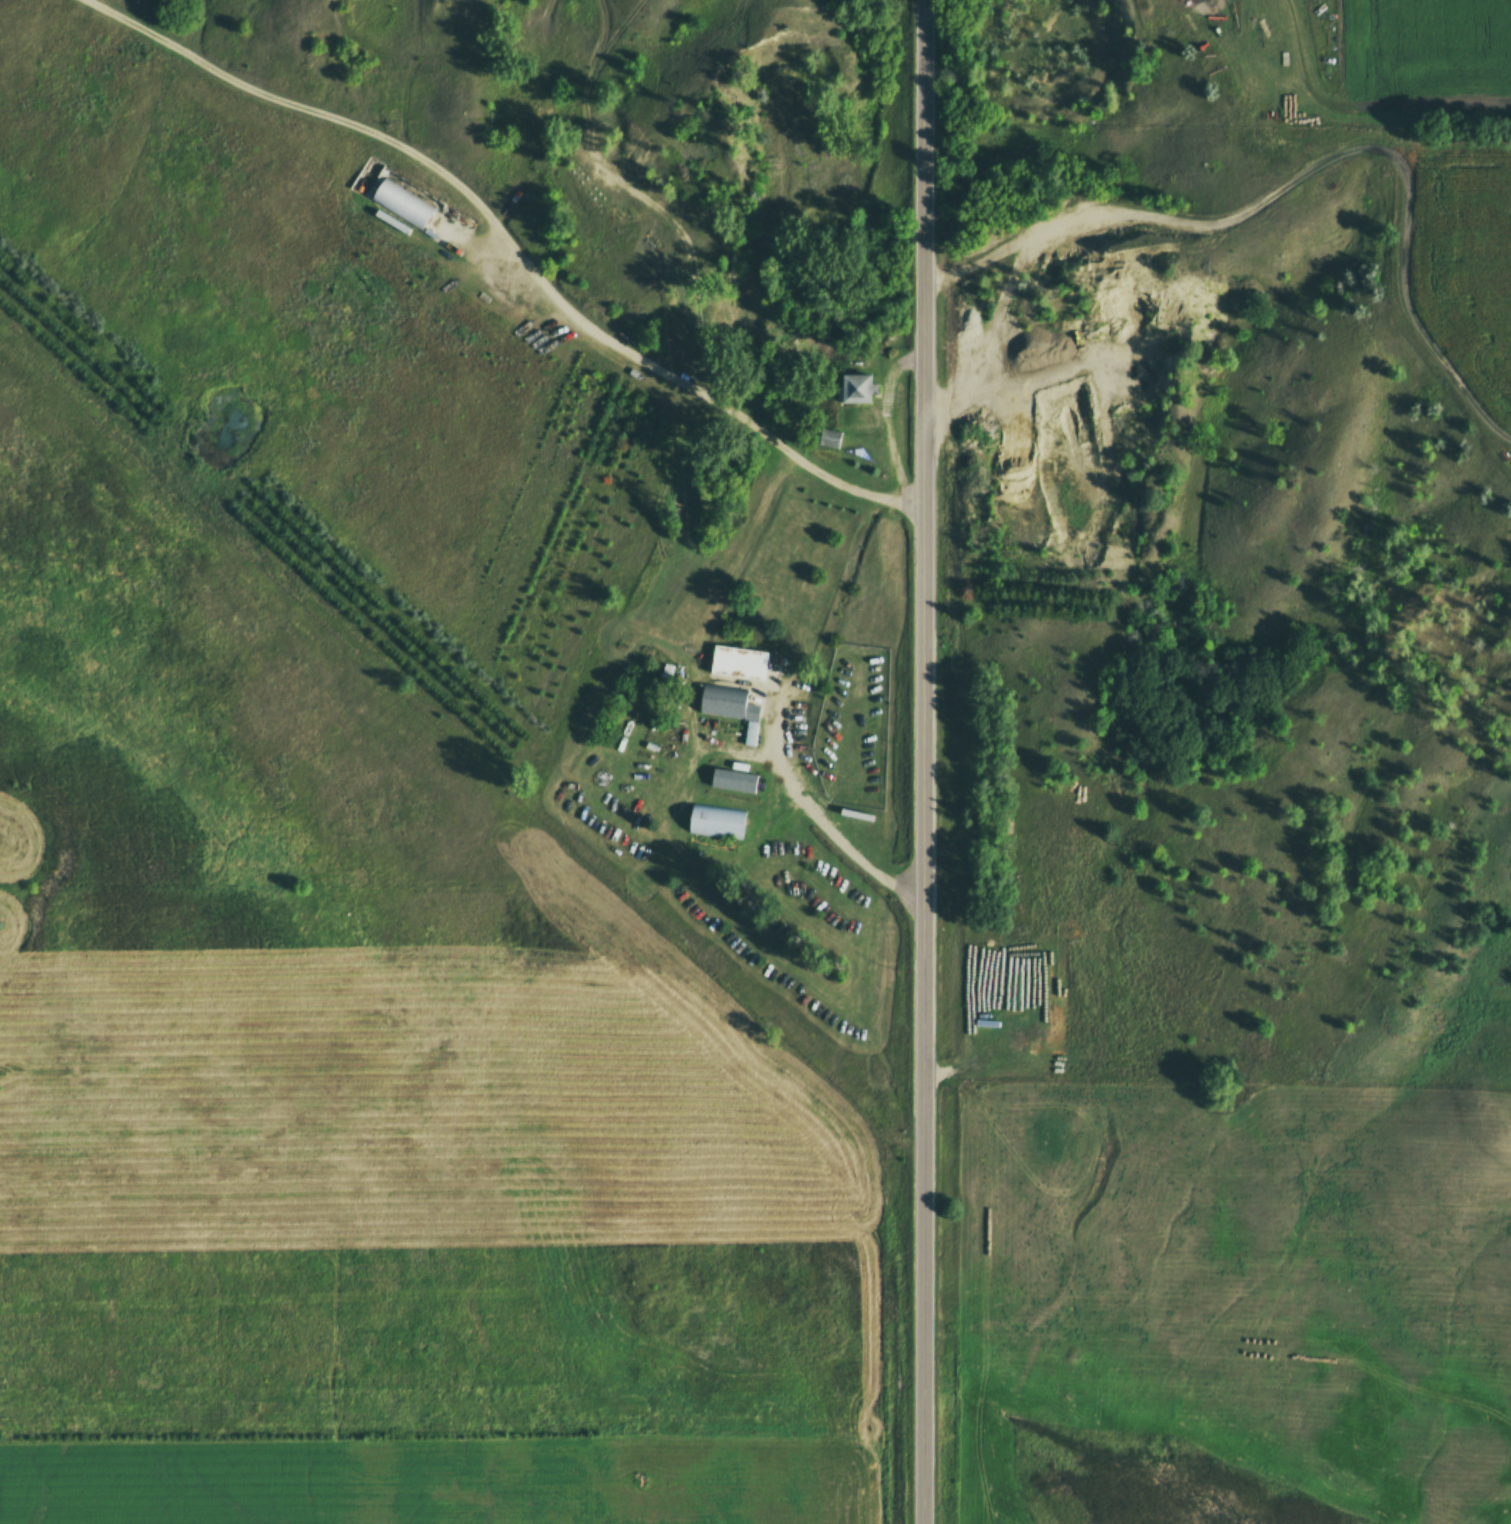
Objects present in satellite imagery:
building: (366, 177)
building: (400, 204)
building: (853, 388)
building: (738, 664)
building: (730, 708)
road: (926, 762)
building: (732, 782)
building: (715, 822)

